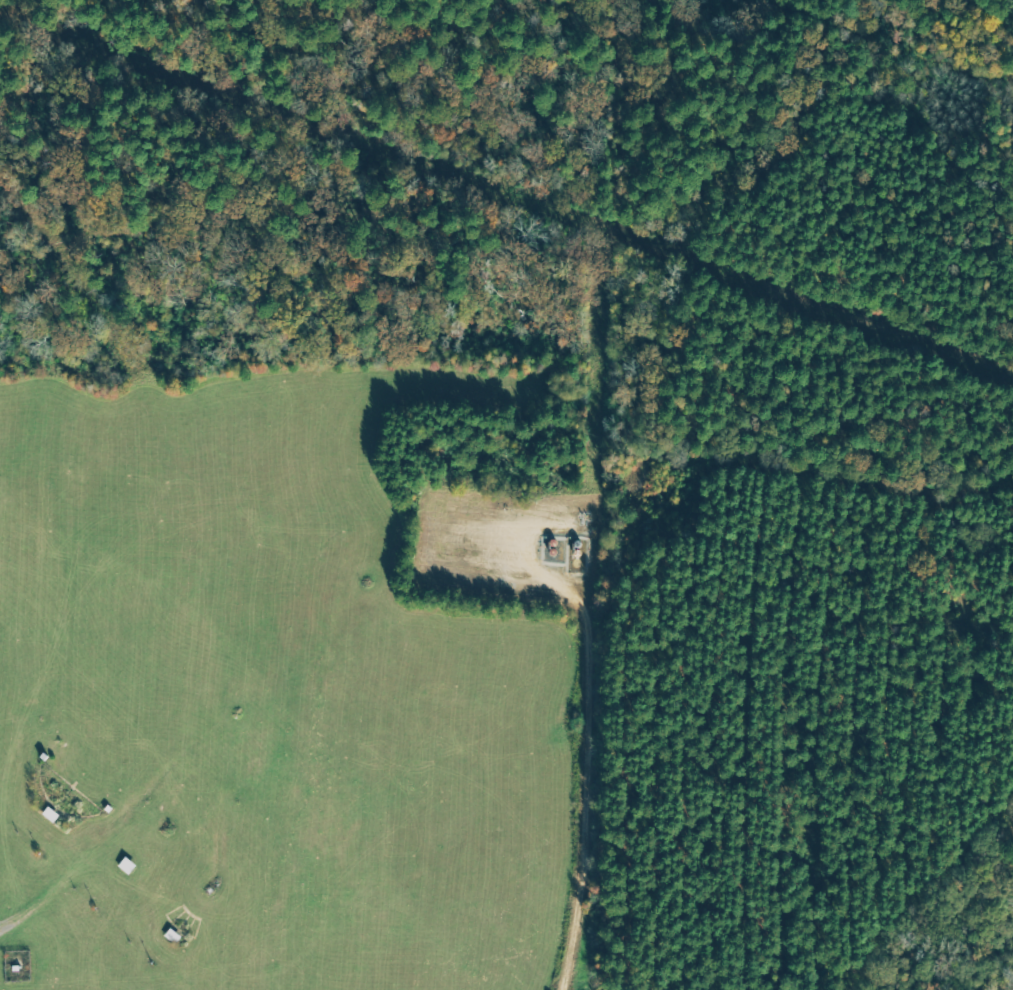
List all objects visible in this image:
road: (590, 775)
building: (49, 815)

